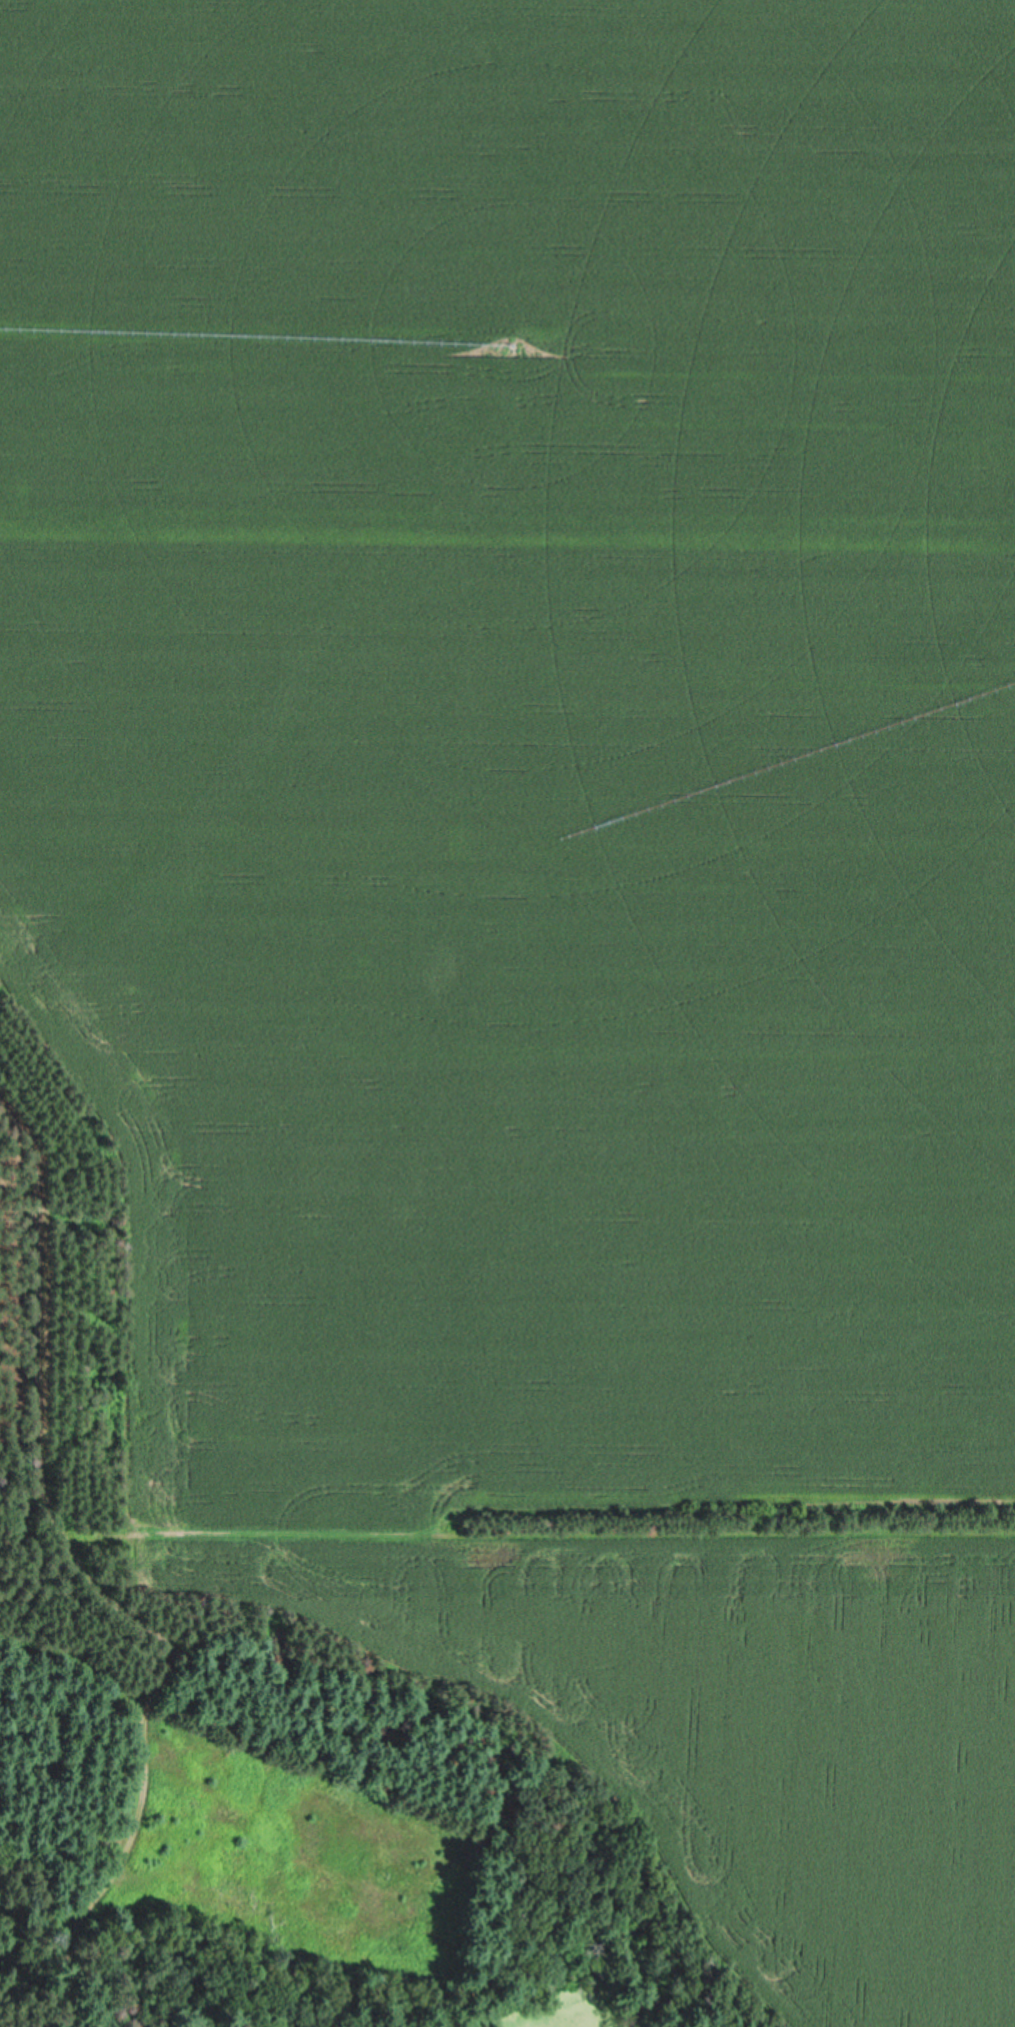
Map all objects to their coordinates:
road: (102, 1801)

